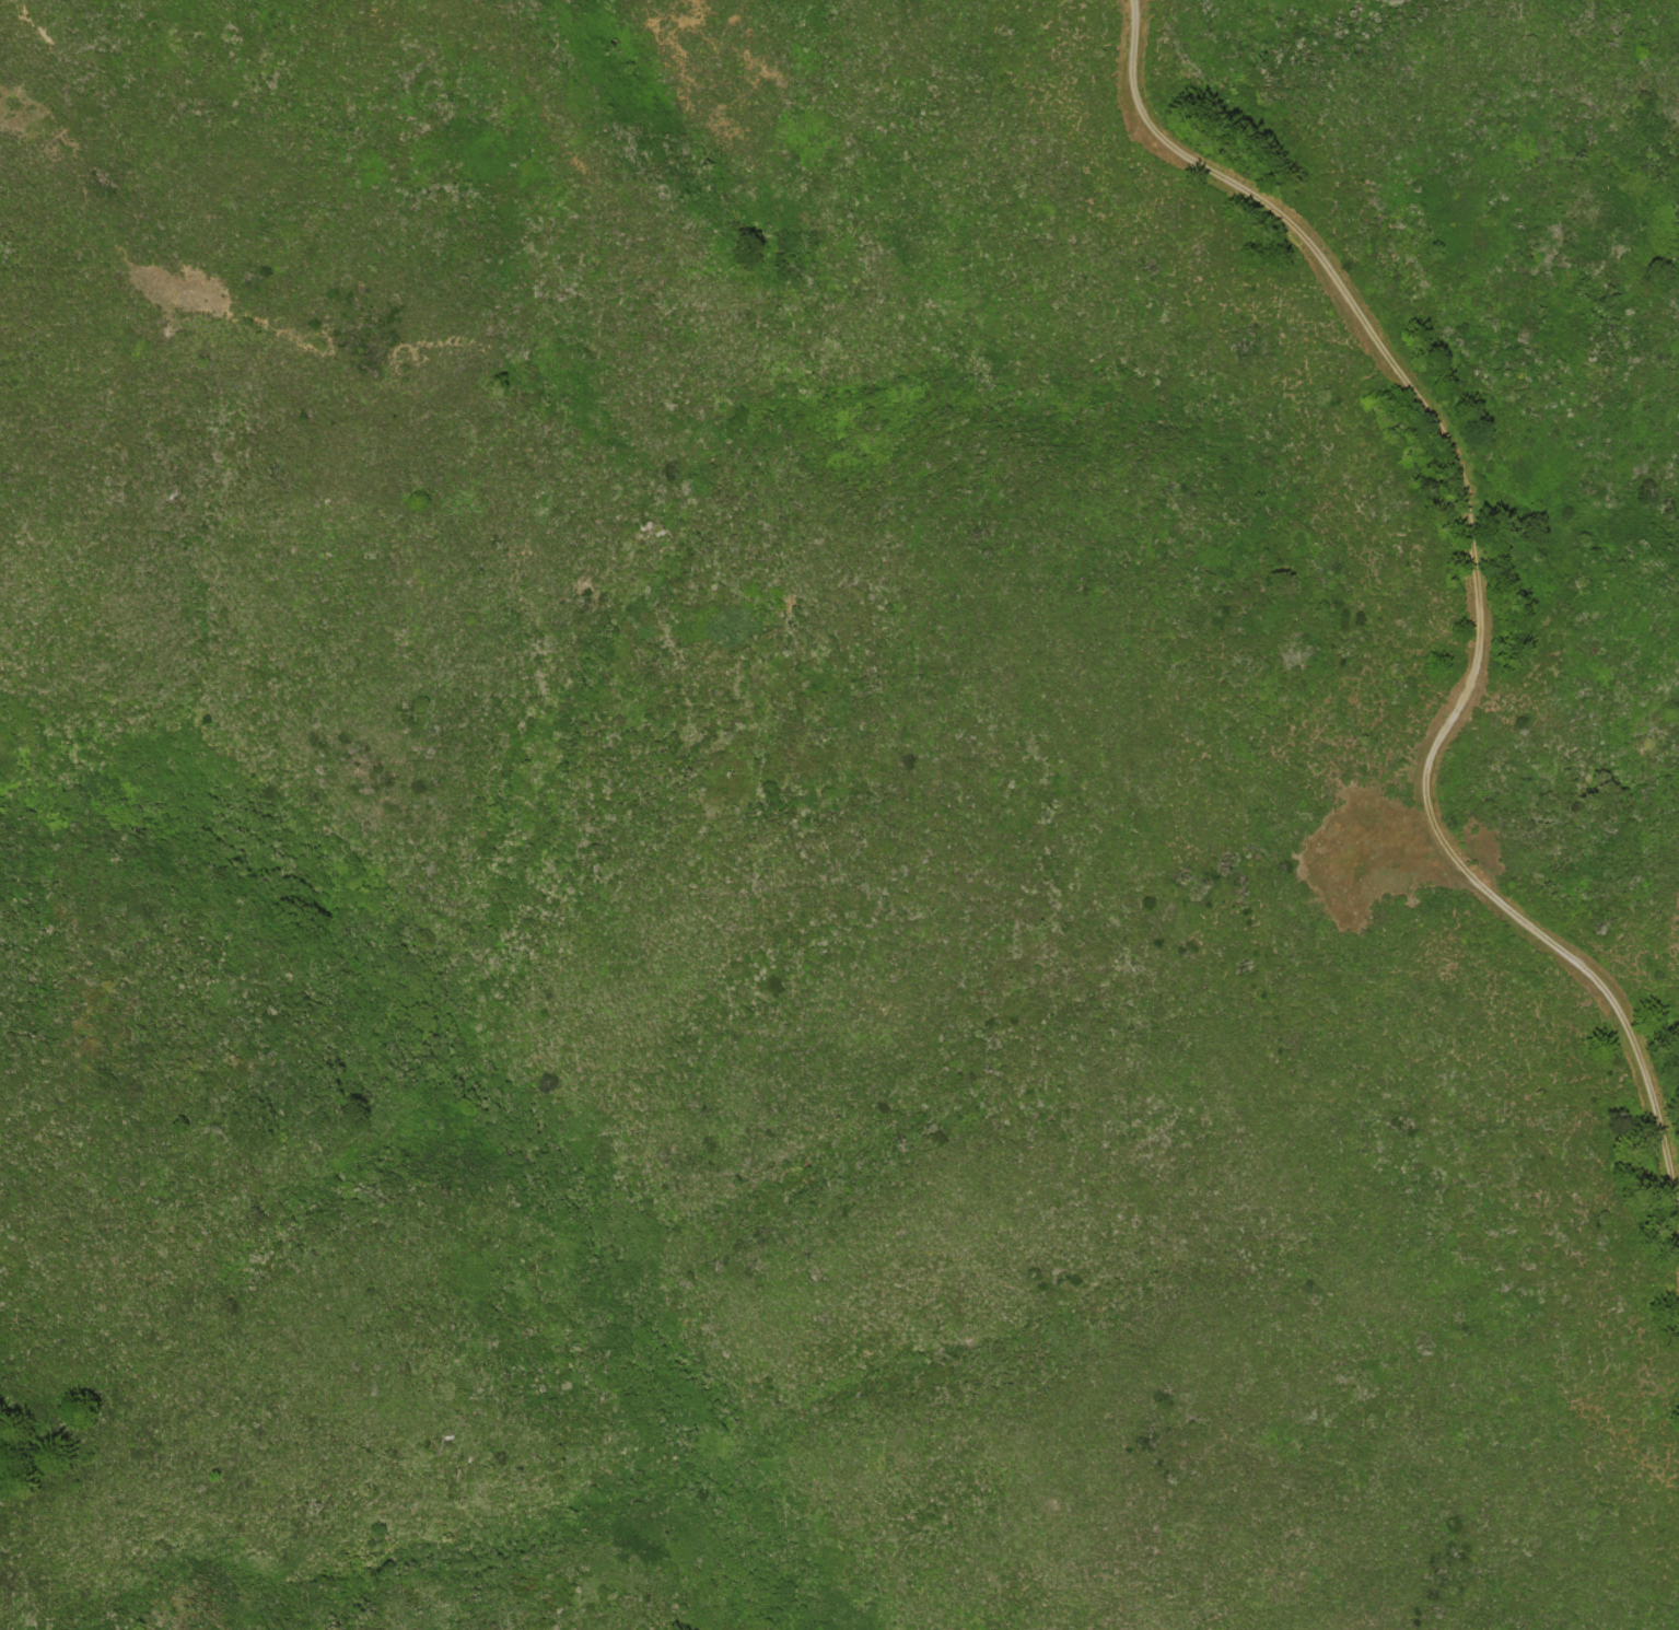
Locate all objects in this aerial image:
road: (1476, 593)

